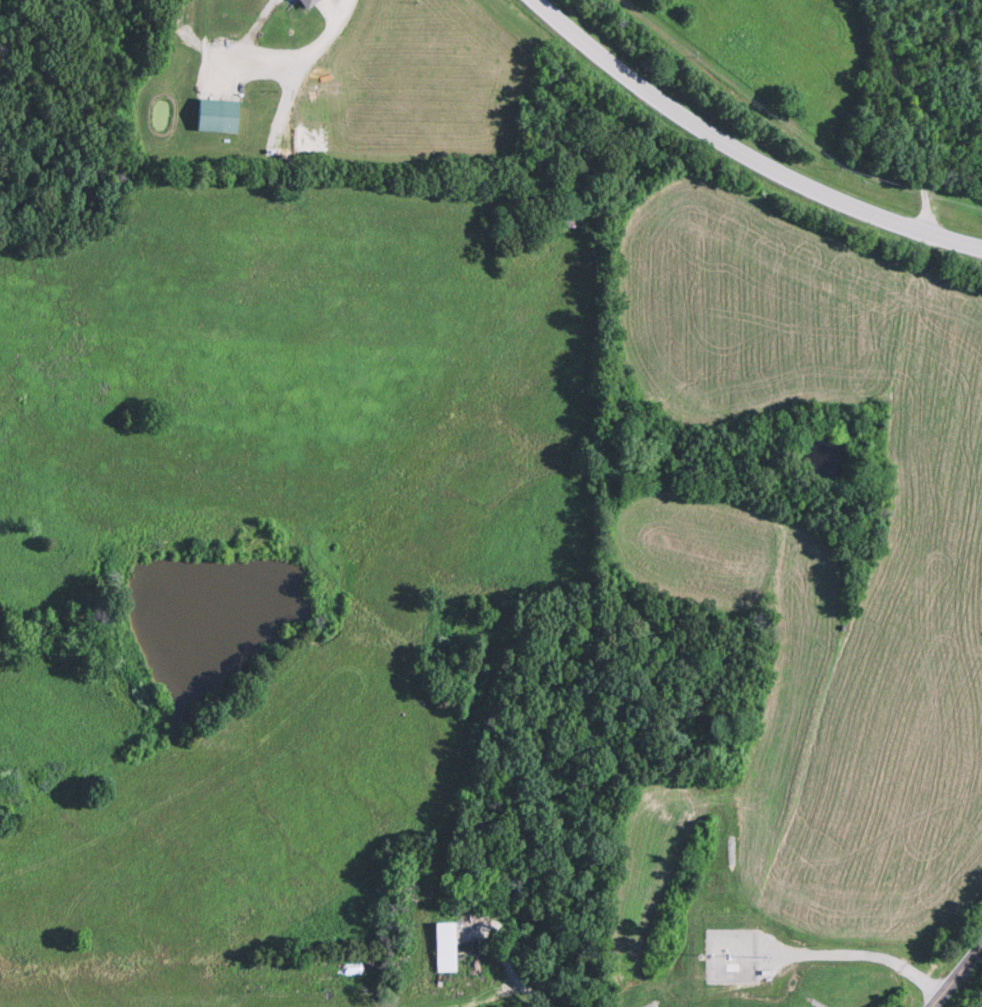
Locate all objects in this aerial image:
road: (297, 58)
building: (219, 116)
road: (903, 117)
road: (742, 153)
building: (571, 216)
building: (446, 949)
road: (506, 968)
road: (956, 975)

